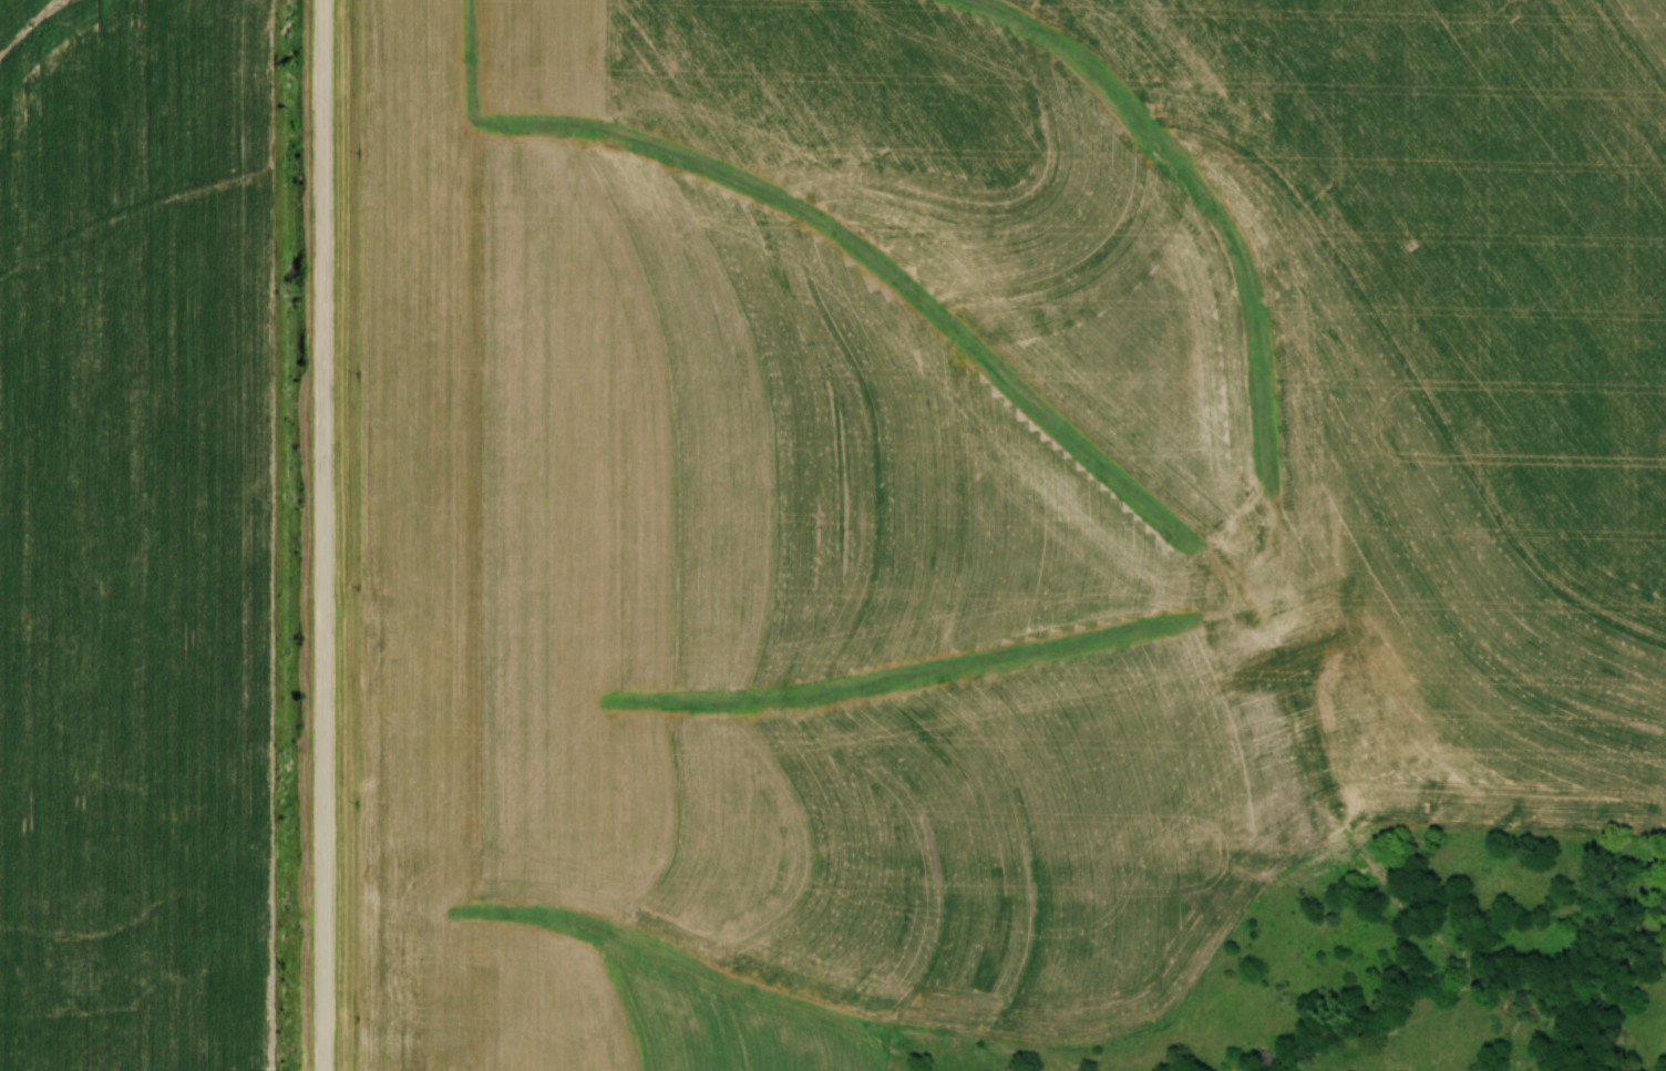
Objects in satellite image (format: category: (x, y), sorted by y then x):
road: (318, 535)

